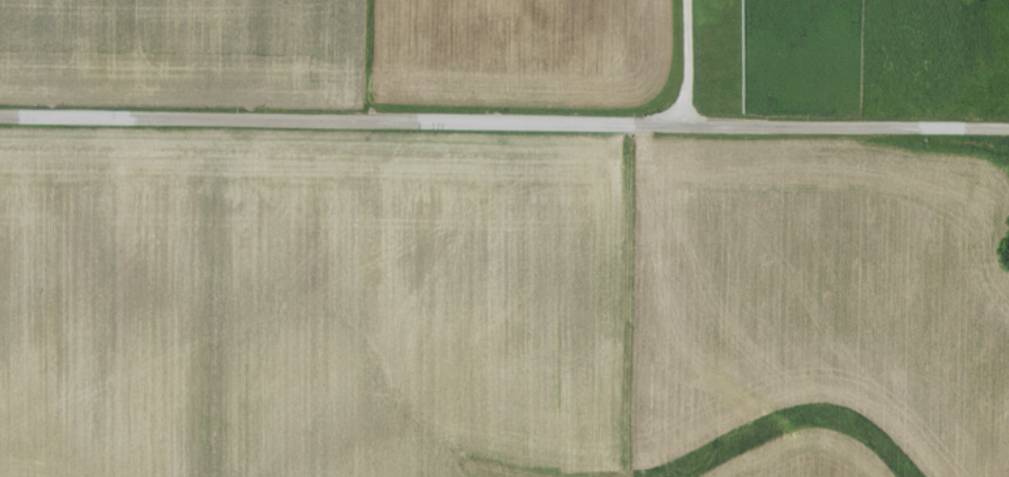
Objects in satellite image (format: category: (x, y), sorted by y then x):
road: (688, 63)
road: (504, 125)

